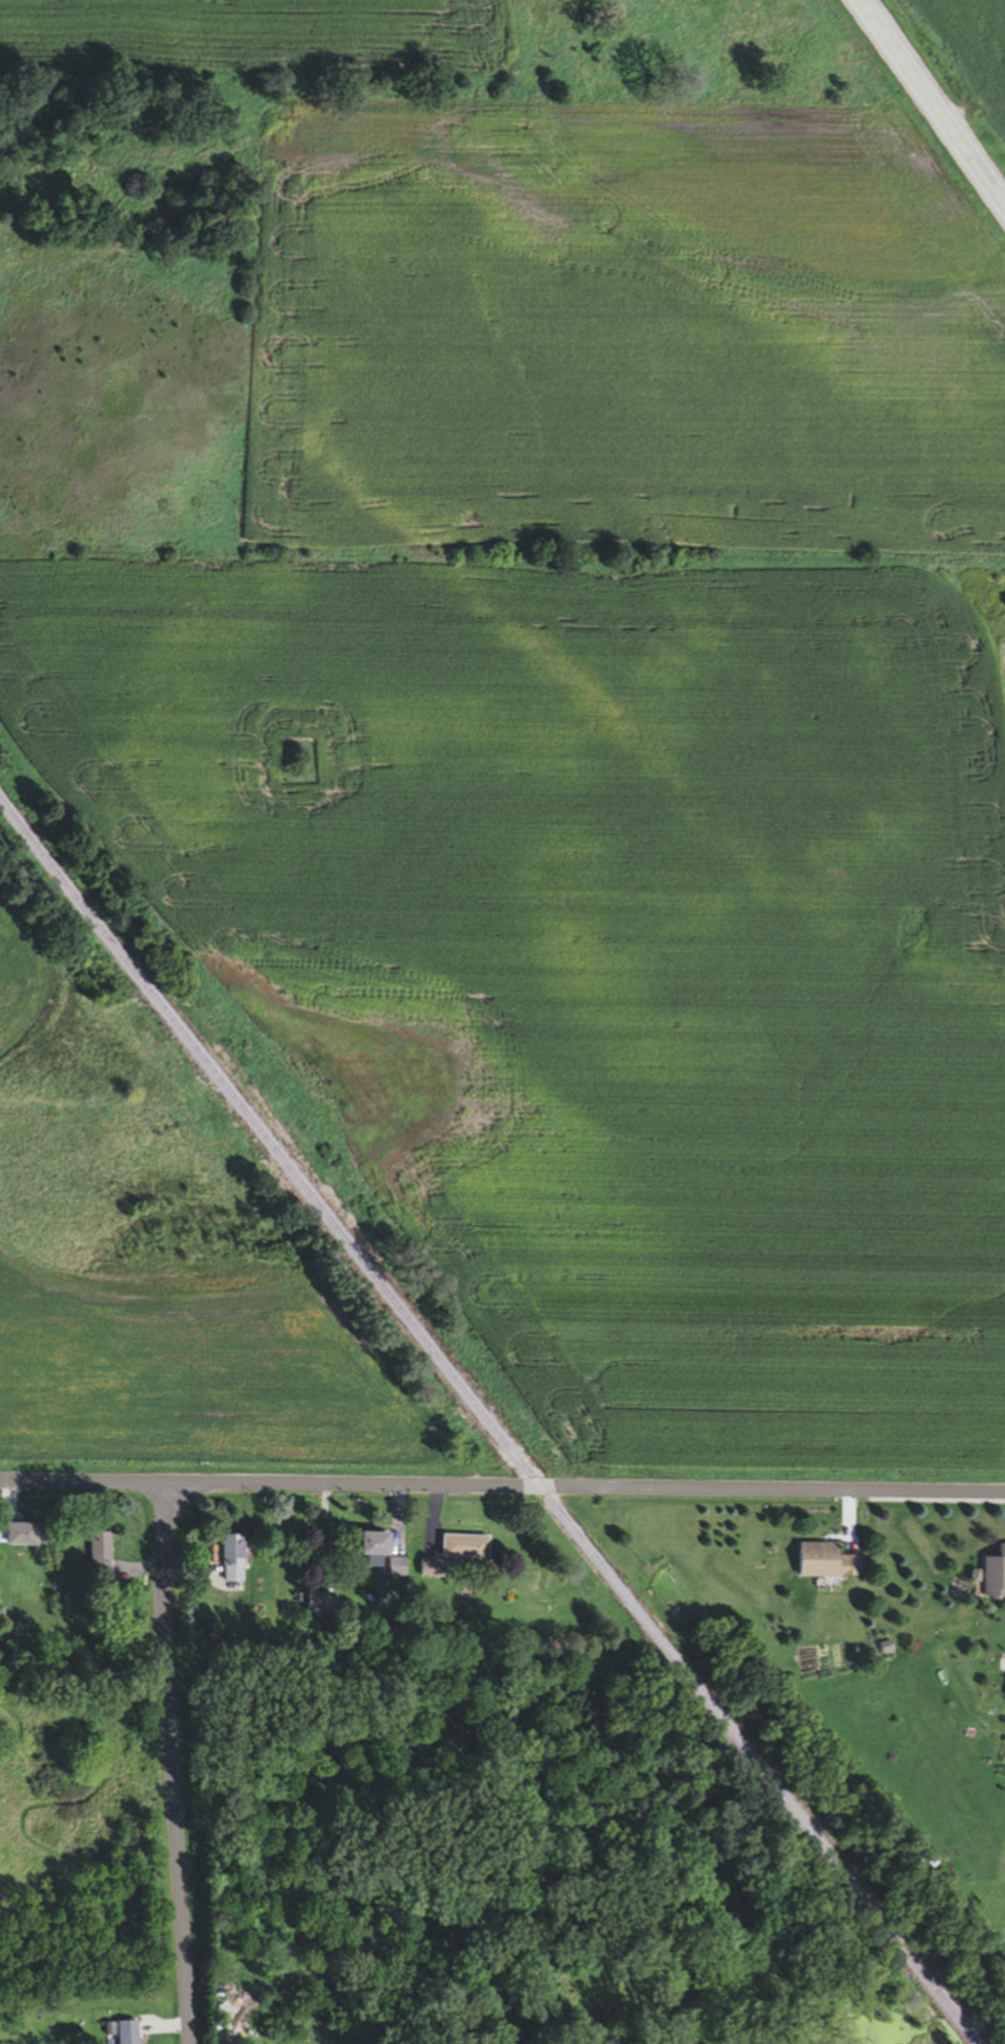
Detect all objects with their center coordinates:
road: (931, 103)
railway: (488, 1422)
road: (502, 1489)
building: (15, 1537)
building: (462, 1549)
building: (369, 1550)
building: (97, 1556)
building: (230, 1561)
building: (822, 1564)
building: (993, 1576)
building: (316, 1605)
building: (1004, 1700)
road: (172, 1762)
building: (122, 2033)

